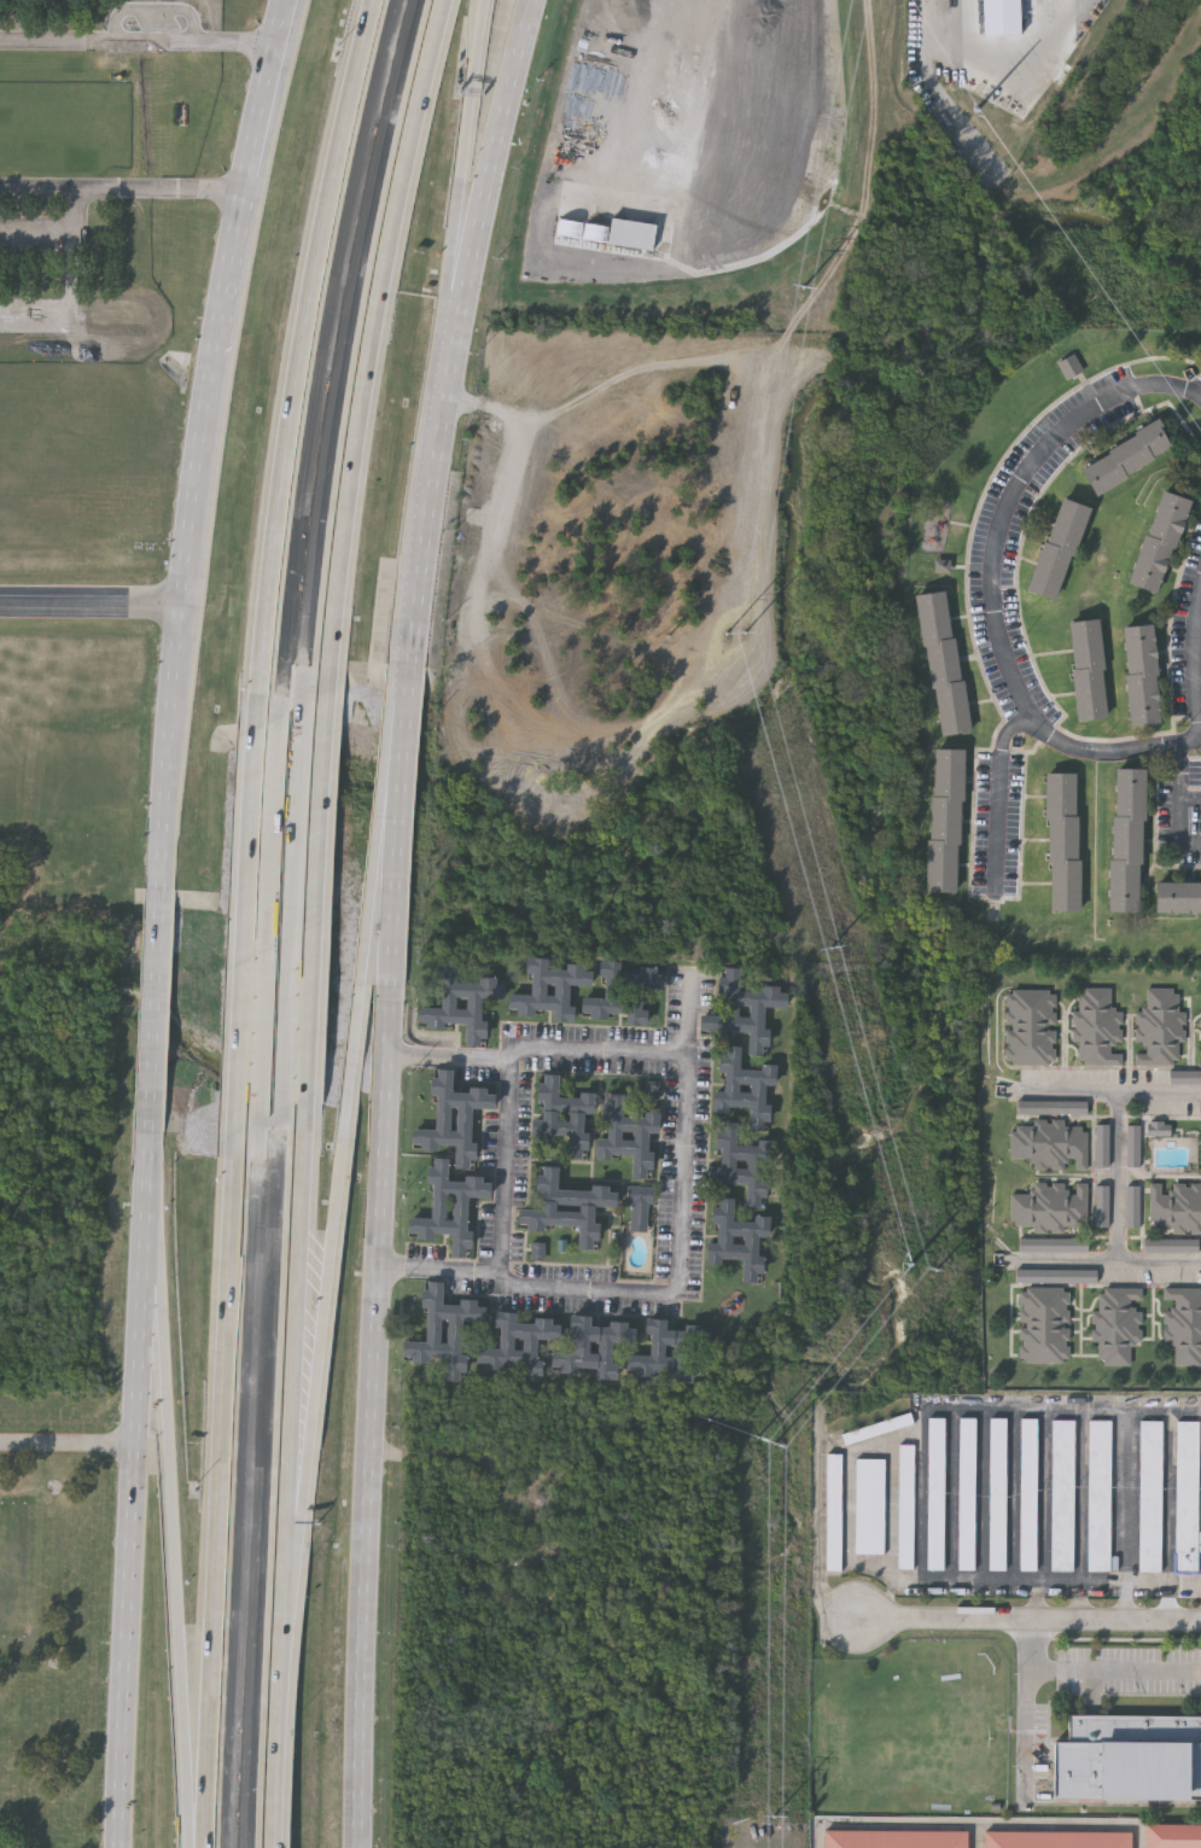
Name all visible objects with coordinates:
road: (991, 35)
road: (139, 45)
road: (462, 168)
road: (123, 188)
road: (56, 229)
building: (630, 237)
power tower: (800, 291)
road: (456, 332)
road: (374, 342)
road: (298, 361)
building: (1071, 362)
road: (205, 442)
building: (1127, 454)
building: (1160, 538)
building: (1057, 547)
road: (490, 561)
road: (992, 582)
road: (94, 605)
power tower: (735, 636)
road: (1196, 655)
building: (943, 660)
building: (484, 663)
building: (1089, 666)
building: (1142, 671)
road: (409, 700)
road: (999, 797)
road: (1180, 798)
building: (945, 818)
building: (1127, 838)
building: (1063, 839)
road: (398, 888)
building: (1178, 892)
road: (316, 893)
road: (377, 897)
road: (244, 932)
power tower: (833, 950)
building: (550, 987)
building: (623, 990)
building: (461, 1001)
building: (744, 1009)
road: (157, 1012)
building: (1030, 1026)
building: (1097, 1027)
building: (1159, 1027)
building: (745, 1085)
road: (1065, 1090)
road: (1159, 1090)
building: (562, 1113)
building: (453, 1115)
building: (628, 1132)
building: (1050, 1142)
building: (742, 1160)
building: (449, 1205)
building: (639, 1205)
building: (1050, 1205)
building: (1174, 1205)
building: (569, 1206)
road: (1117, 1218)
road: (680, 1222)
building: (739, 1237)
building: (1171, 1247)
power tower: (905, 1266)
road: (441, 1269)
building: (1044, 1322)
building: (1117, 1322)
building: (1183, 1322)
building: (443, 1329)
road: (321, 1336)
building: (519, 1341)
building: (594, 1345)
building: (670, 1348)
road: (296, 1351)
road: (69, 1441)
power tower: (774, 1445)
road: (369, 1447)
road: (134, 1490)
road: (220, 1491)
building: (935, 1493)
building: (966, 1493)
building: (997, 1494)
building: (1028, 1494)
building: (1062, 1494)
building: (1150, 1494)
road: (1014, 1496)
building: (1098, 1496)
building: (1187, 1496)
road: (1126, 1497)
road: (921, 1503)
building: (869, 1505)
building: (905, 1505)
building: (832, 1510)
road: (179, 1525)
road: (820, 1527)
road: (1170, 1547)
building: (14, 1567)
road: (1037, 1599)
road: (1125, 1599)
road: (1033, 1619)
road: (1092, 1668)
road: (281, 1727)
road: (1028, 1729)
building: (1129, 1756)
power tower: (775, 1817)
building: (1177, 1821)
building: (1173, 1835)
building: (894, 1838)
building: (1056, 1838)

